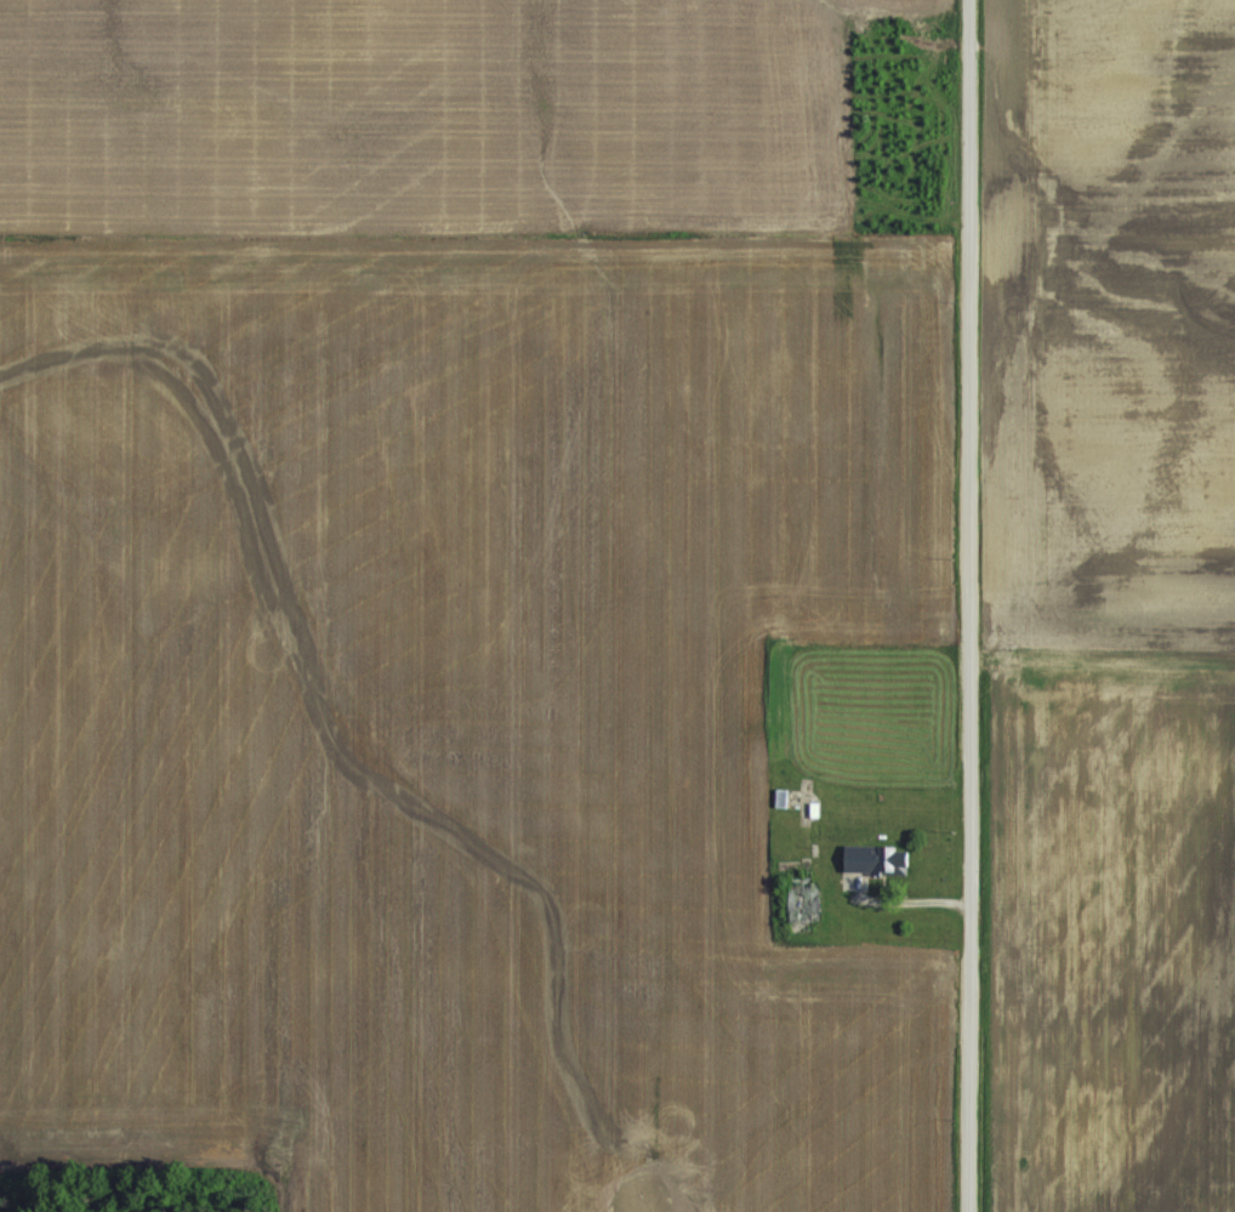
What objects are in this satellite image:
road: (947, 605)
building: (875, 857)

